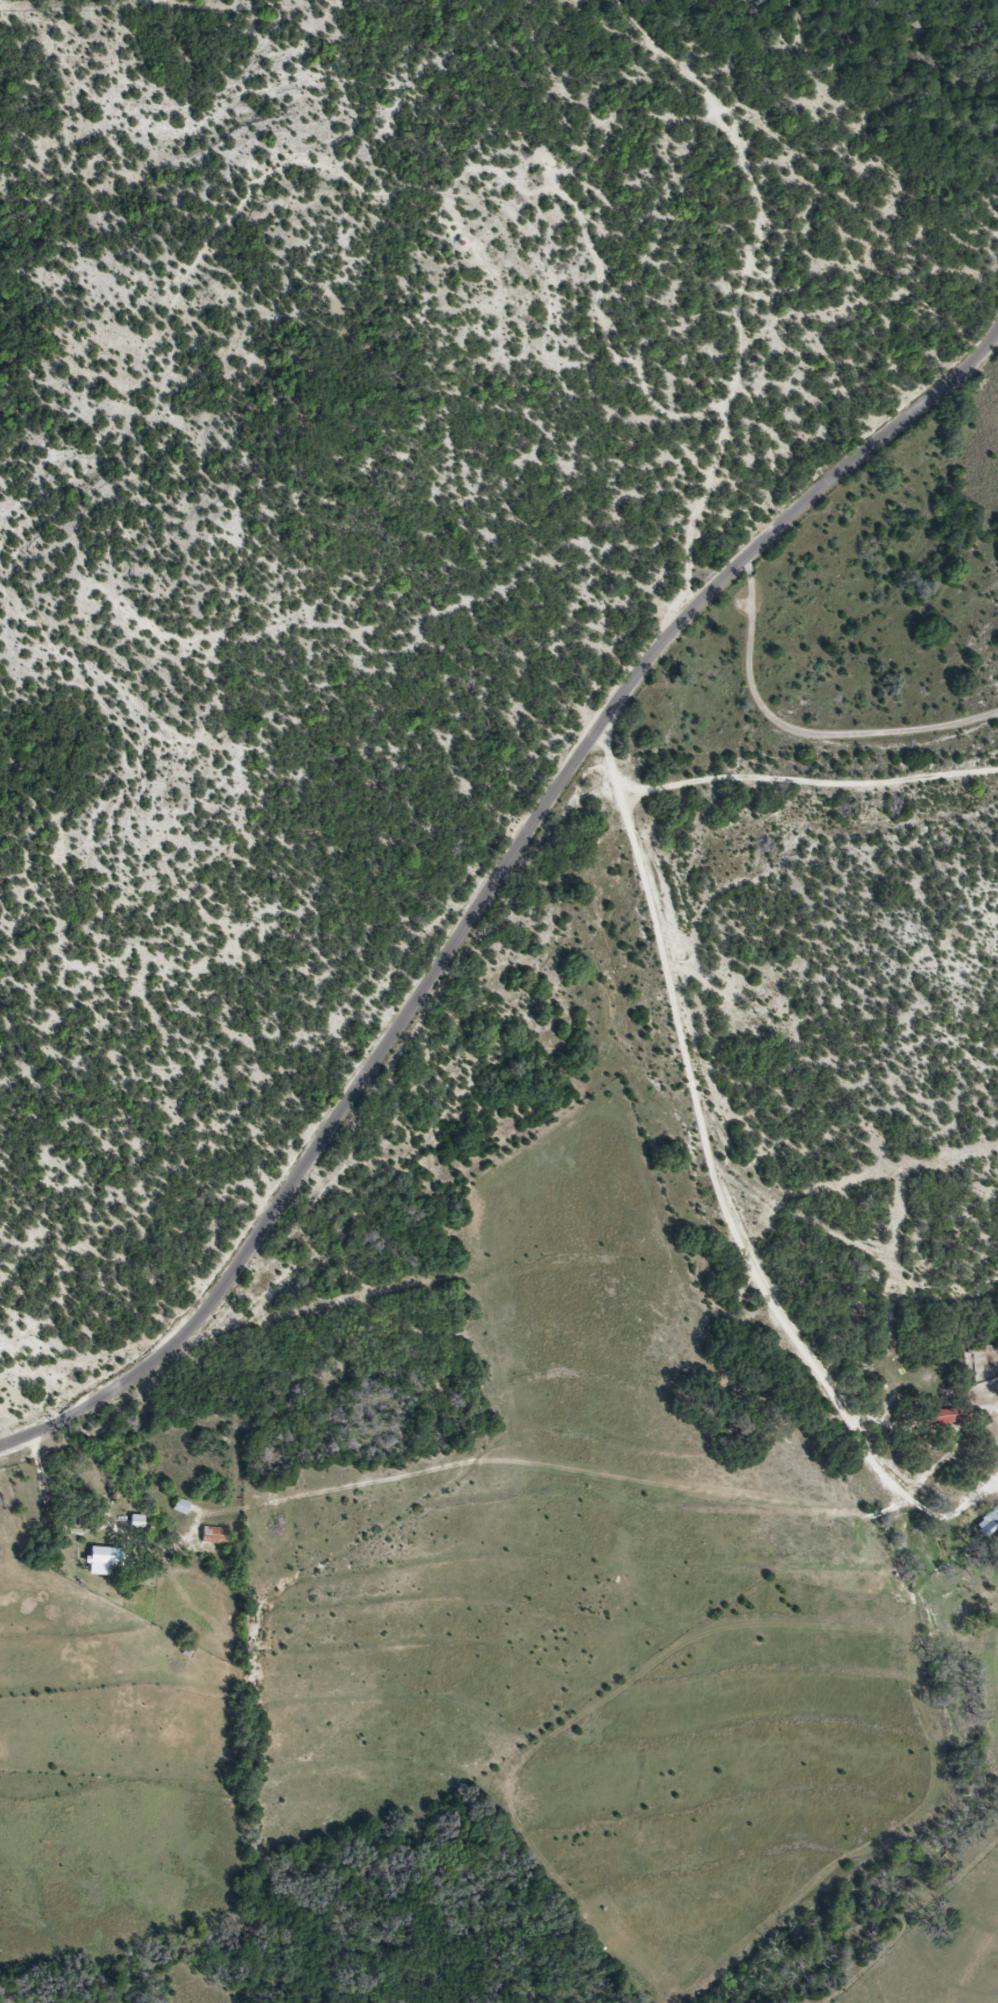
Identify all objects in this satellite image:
road: (795, 741)
road: (489, 886)
road: (704, 1153)
building: (940, 1417)
building: (181, 1507)
building: (988, 1521)
building: (136, 1523)
building: (214, 1536)
building: (104, 1561)

